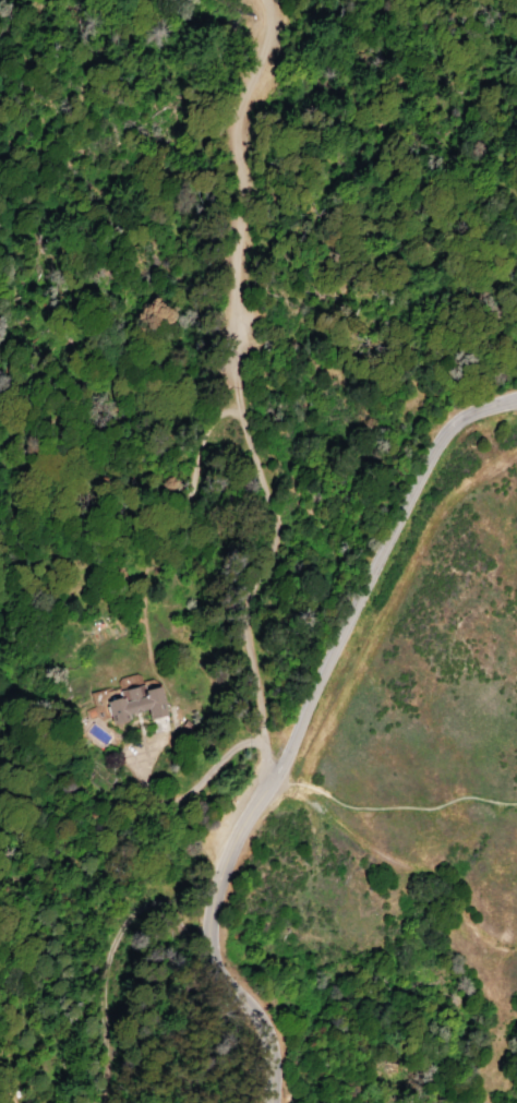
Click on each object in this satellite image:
road: (230, 195)
road: (238, 404)
road: (146, 568)
building: (130, 706)
road: (297, 729)
road: (263, 753)
road: (202, 780)
road: (280, 786)
parking lot: (236, 806)
road: (404, 806)
road: (408, 872)
road: (194, 875)

